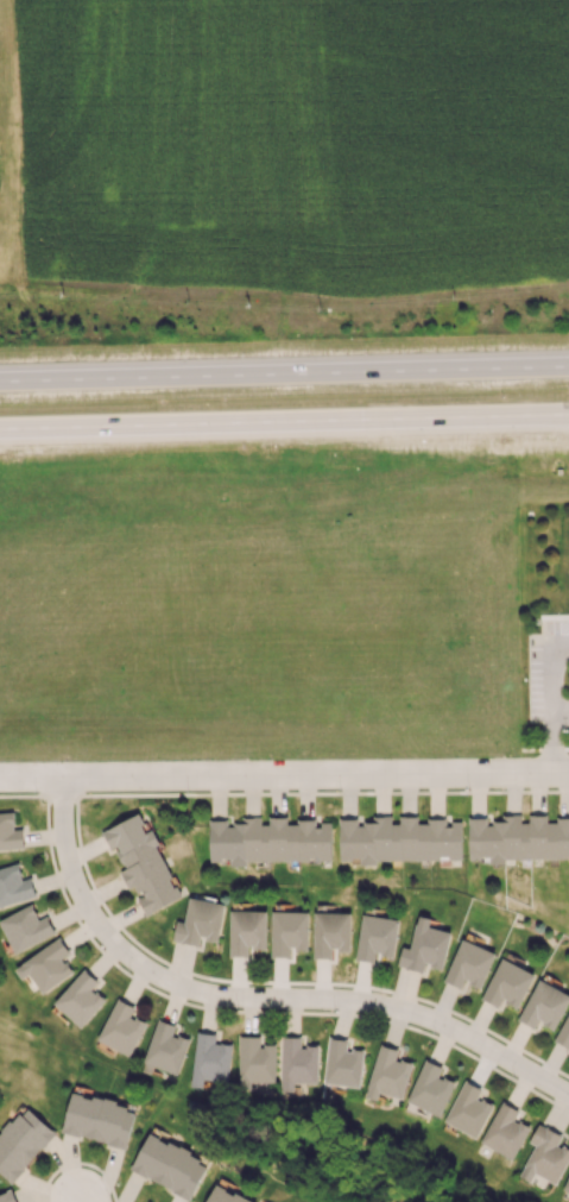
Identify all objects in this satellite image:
road: (7, 143)
road: (284, 372)
road: (284, 421)
crop: (259, 610)
road: (554, 707)
road: (561, 715)
road: (544, 748)
road: (317, 775)
road: (33, 780)
road: (284, 793)
building: (10, 832)
building: (519, 837)
building: (399, 838)
building: (270, 839)
building: (141, 862)
building: (14, 886)
building: (200, 921)
building: (25, 927)
building: (246, 931)
building: (287, 932)
building: (330, 933)
building: (375, 937)
building: (424, 946)
building: (468, 964)
building: (45, 965)
building: (507, 983)
building: (80, 999)
road: (253, 1001)
building: (544, 1005)
building: (121, 1027)
building: (563, 1033)
building: (165, 1047)
building: (209, 1059)
building: (255, 1061)
building: (297, 1063)
building: (342, 1063)
building: (387, 1074)
building: (430, 1088)
building: (468, 1109)
building: (99, 1120)
building: (505, 1131)
building: (21, 1143)
building: (545, 1156)
building: (169, 1165)
building: (567, 1184)
building: (7, 1196)
building: (222, 1196)

